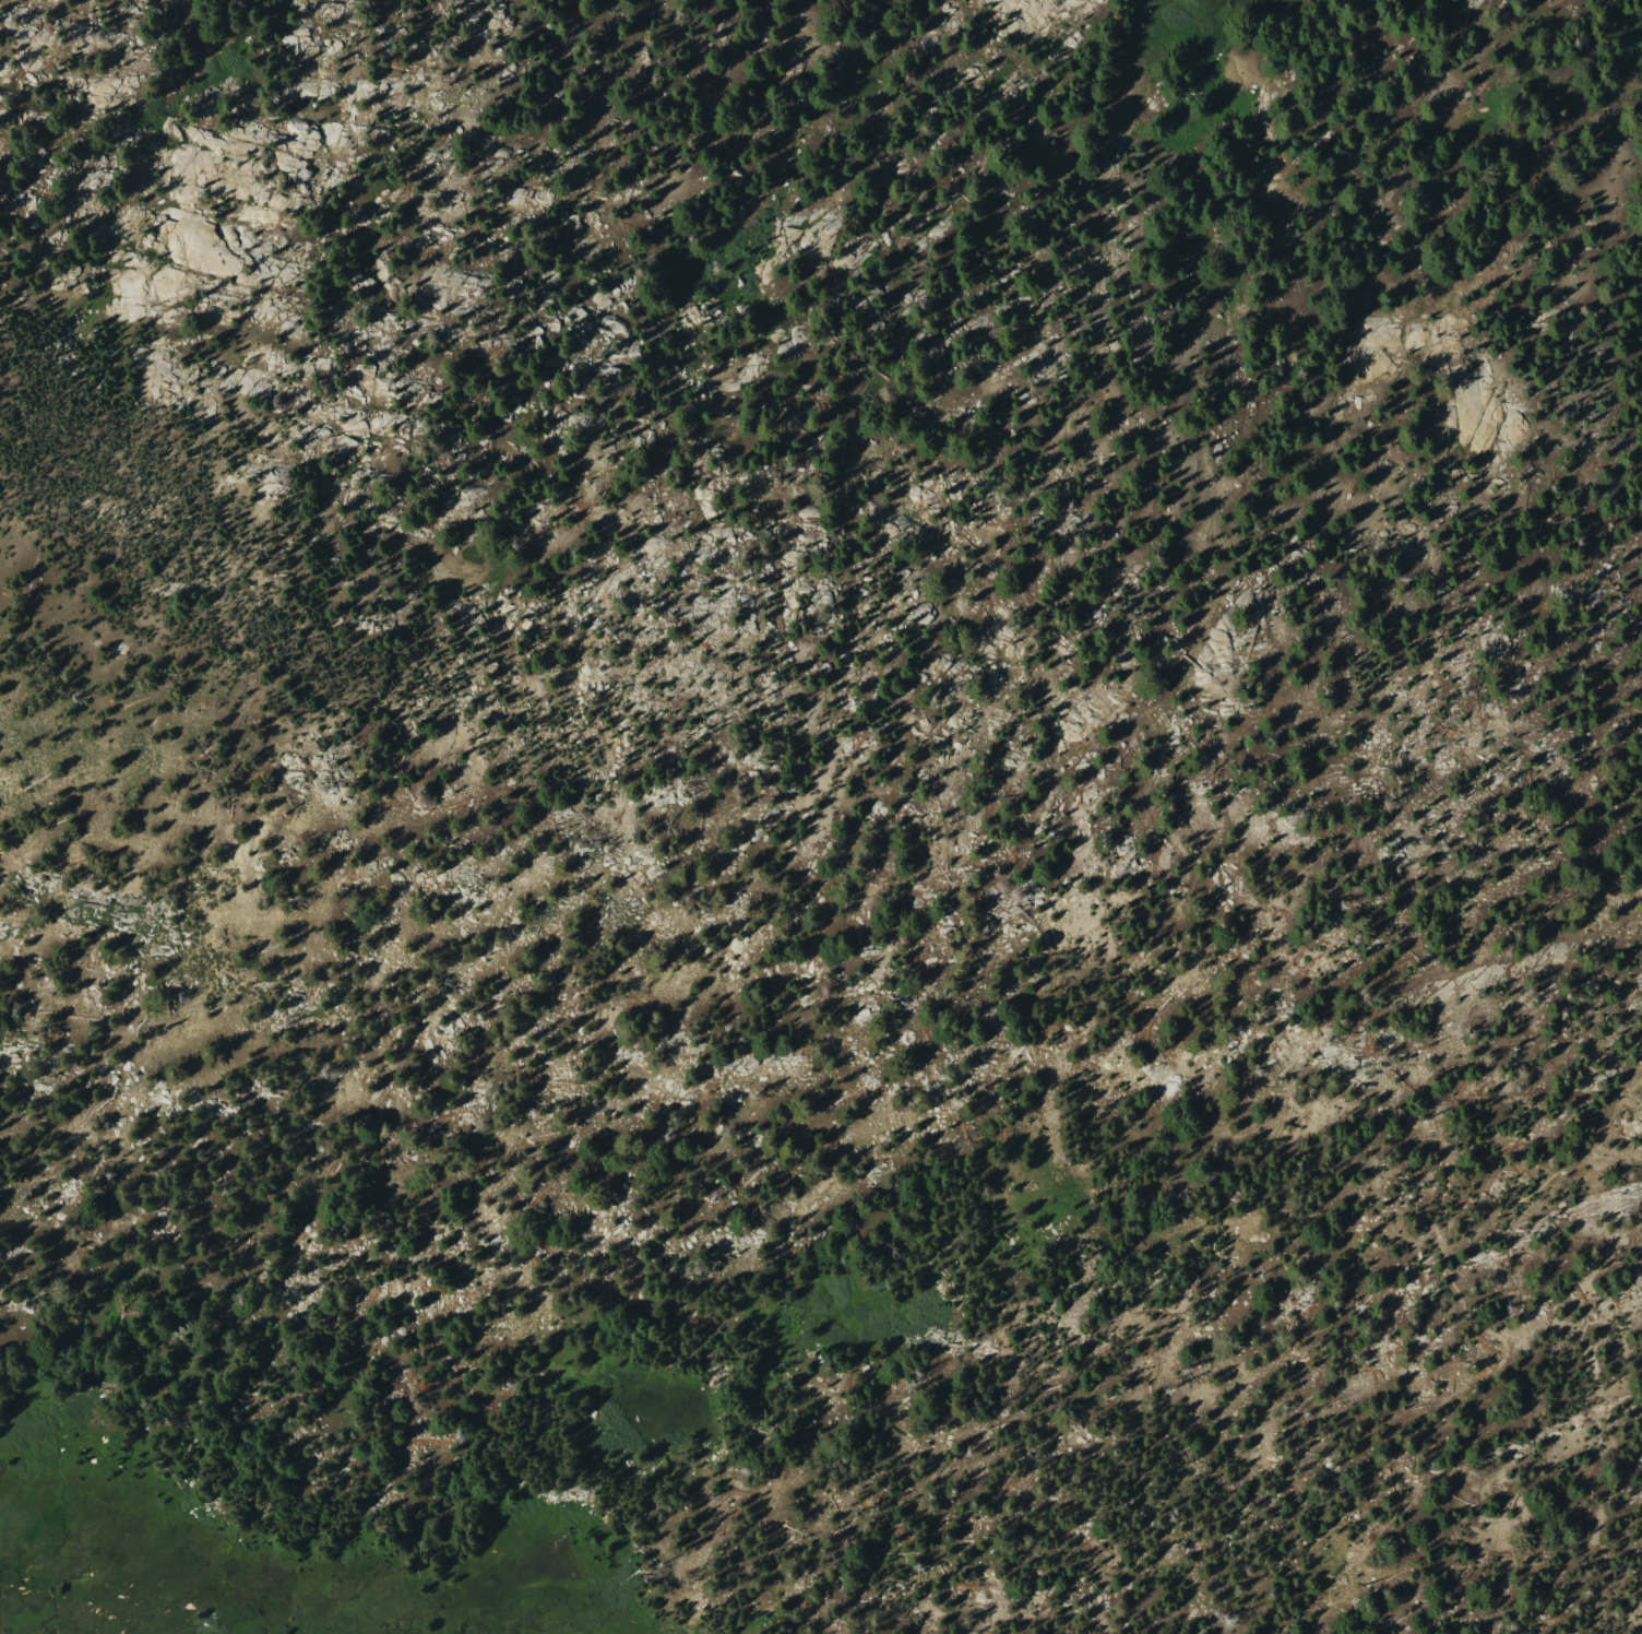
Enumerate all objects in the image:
road: (1492, 1342)

